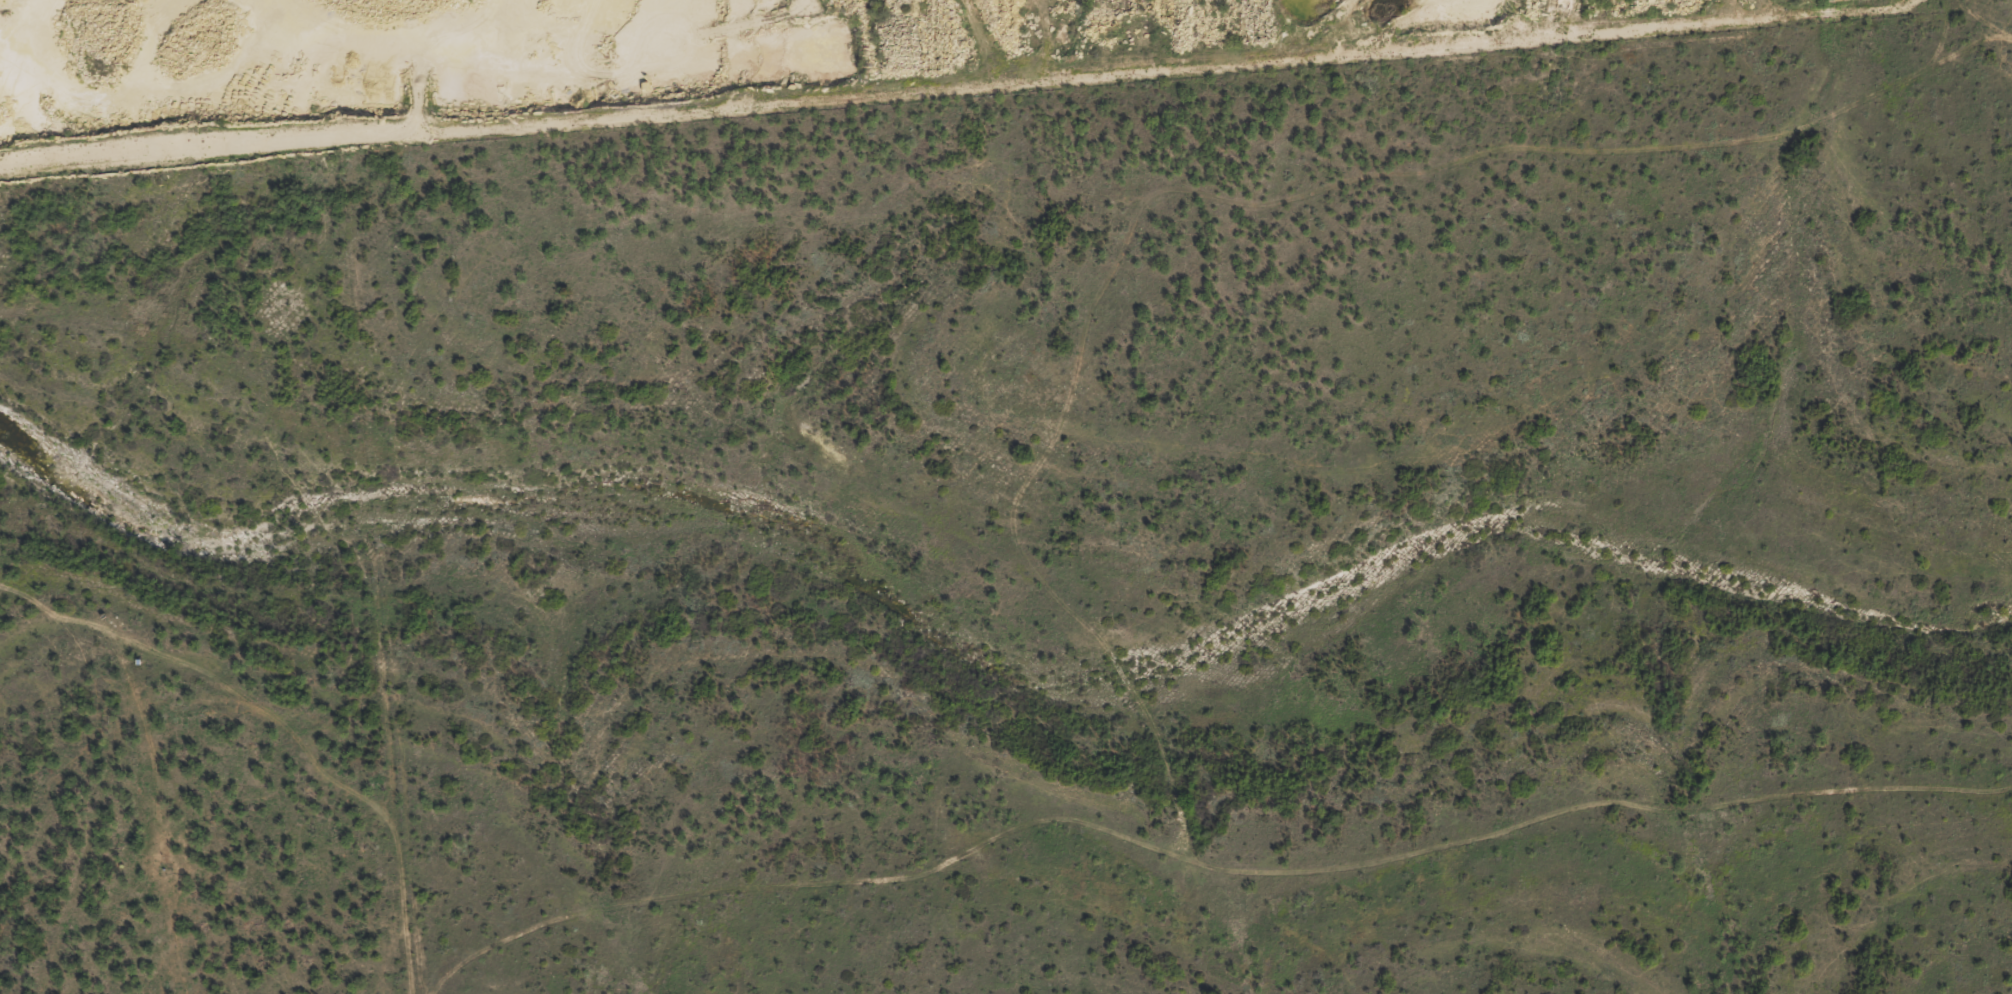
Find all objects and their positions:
road: (1085, 627)
road: (1606, 814)
road: (1103, 836)
road: (1283, 932)

